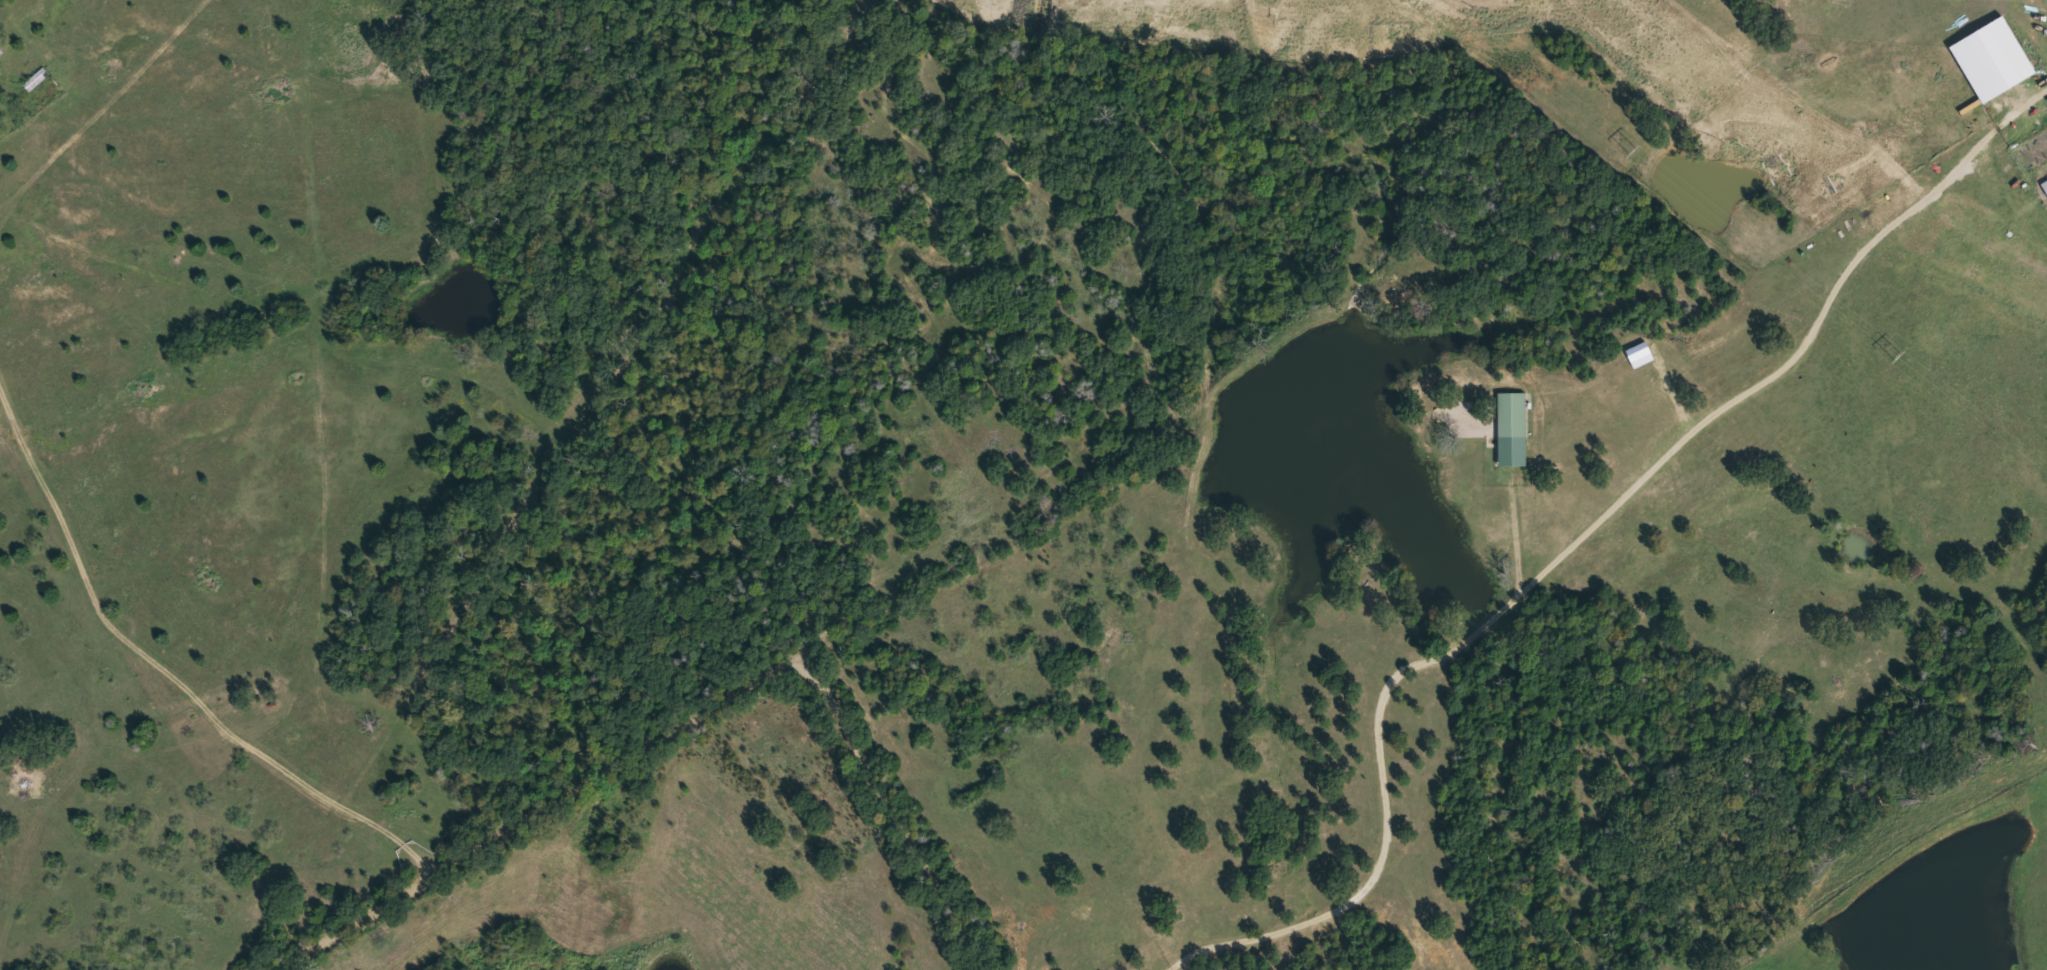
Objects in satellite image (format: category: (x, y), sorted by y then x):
building: (36, 77)
power tower: (1635, 144)
building: (2045, 185)
building: (1511, 413)
road: (1552, 563)
road: (166, 676)
road: (686, 715)
building: (22, 773)

